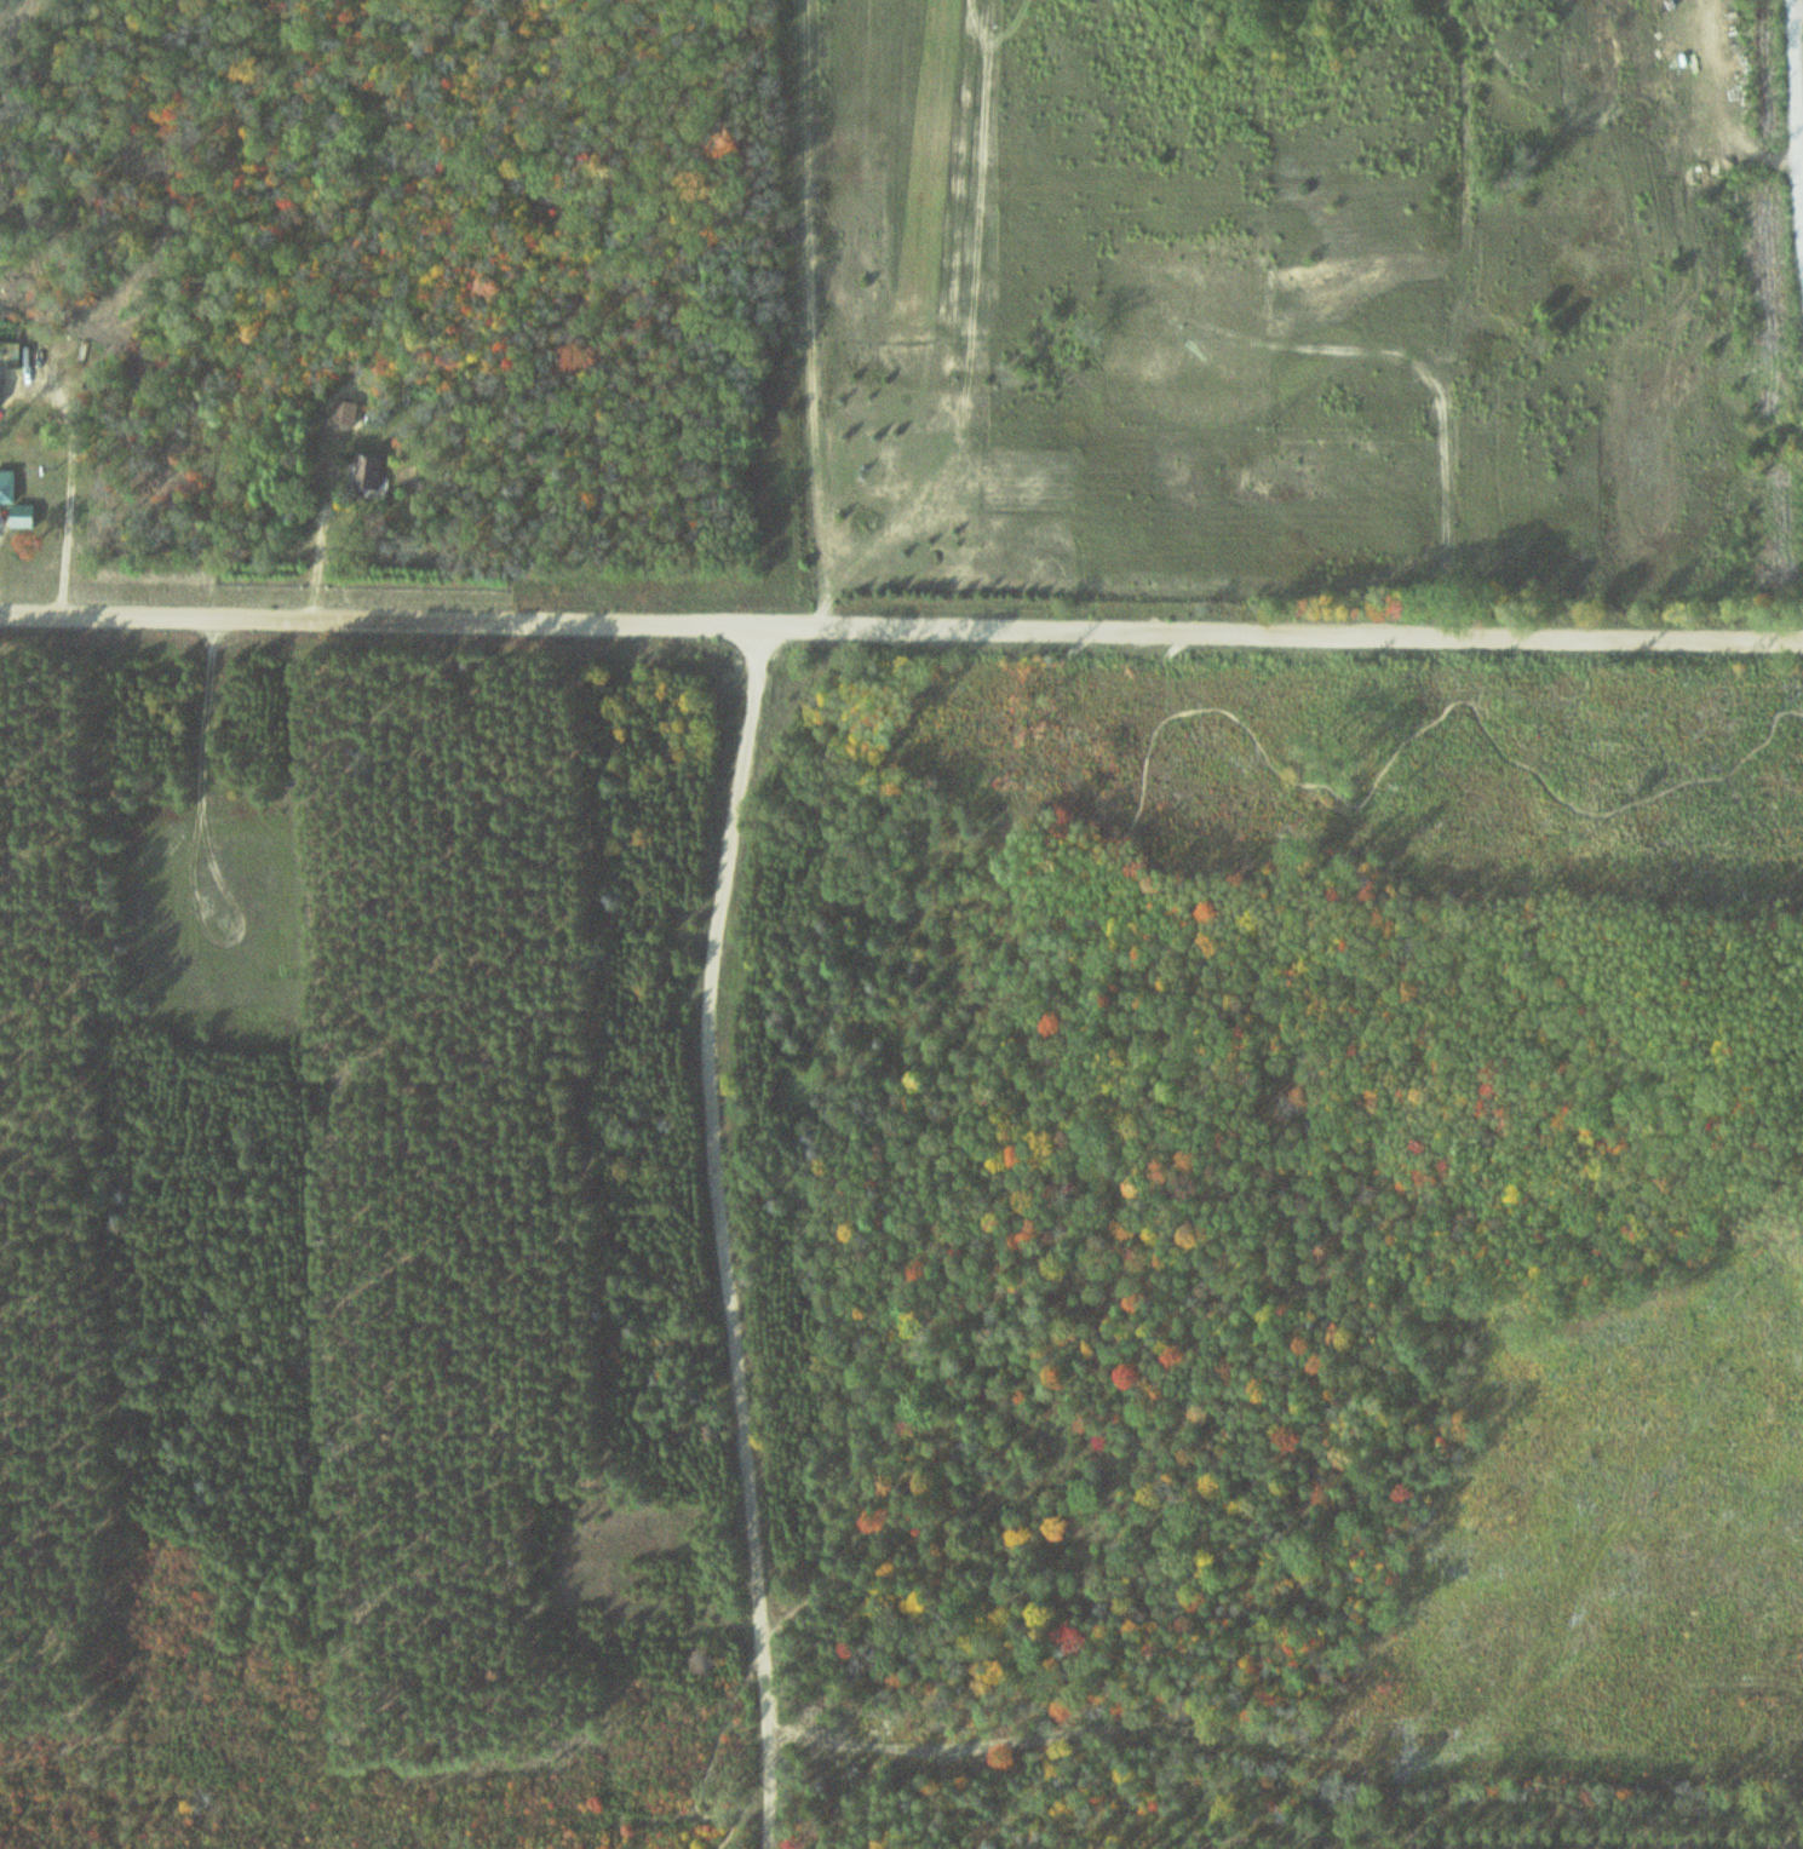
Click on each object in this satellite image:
road: (1802, 199)
building: (1, 394)
building: (7, 487)
road: (901, 624)
road: (194, 848)
road: (1052, 1041)
road: (736, 1234)

